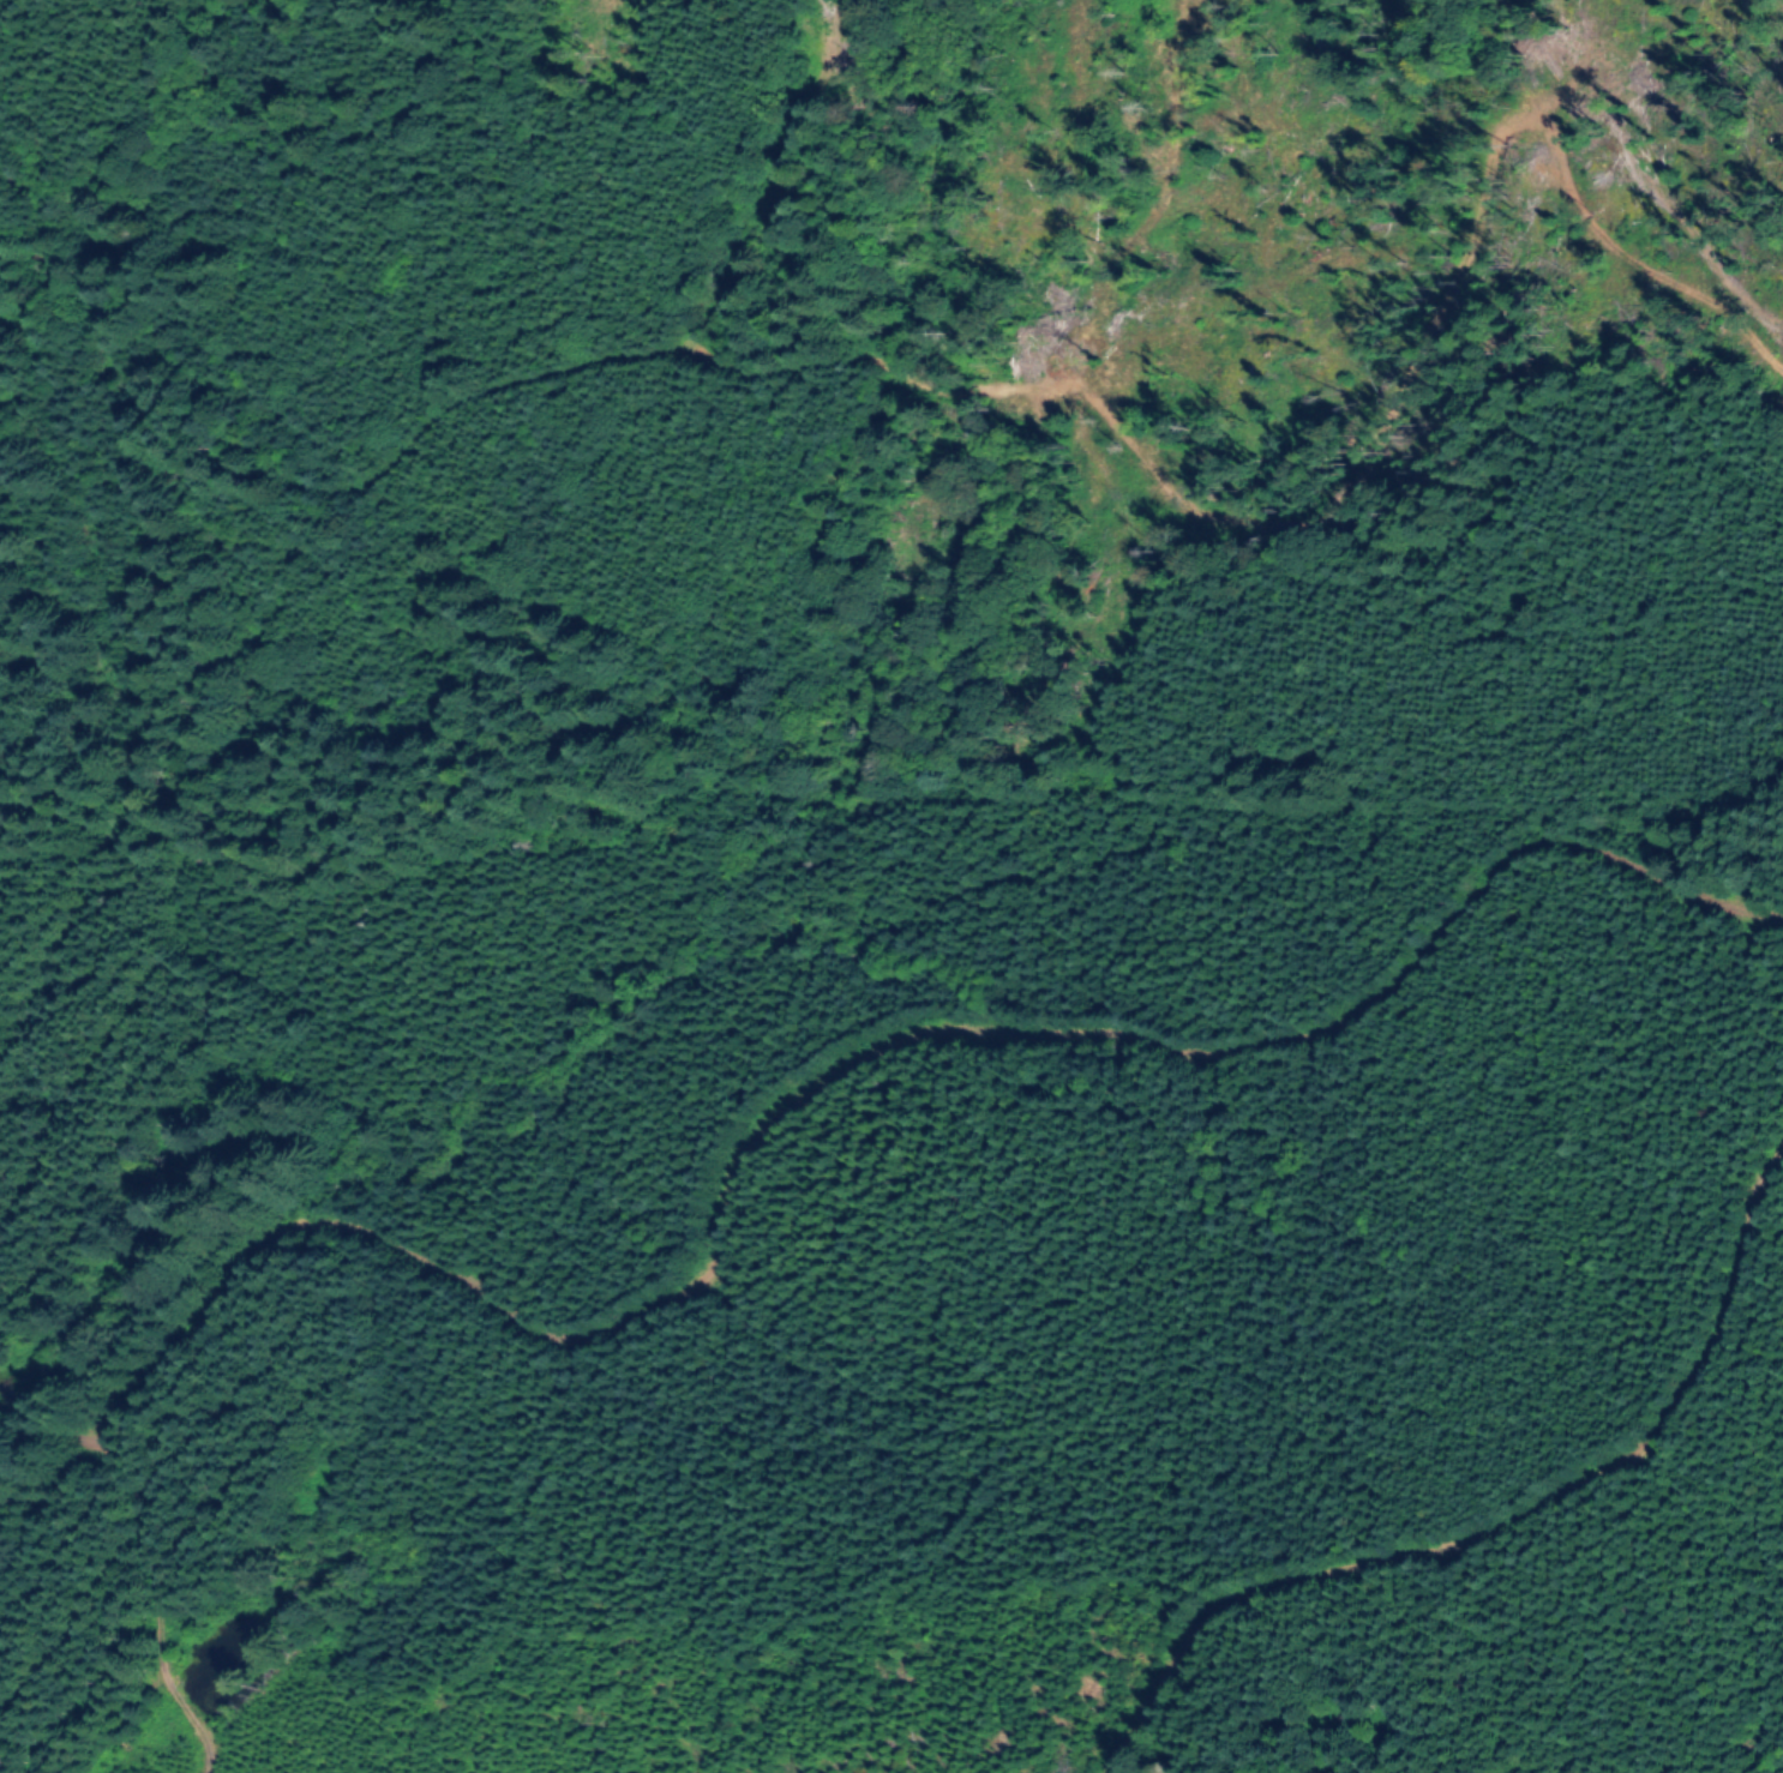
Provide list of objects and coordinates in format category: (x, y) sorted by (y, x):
road: (954, 401)

